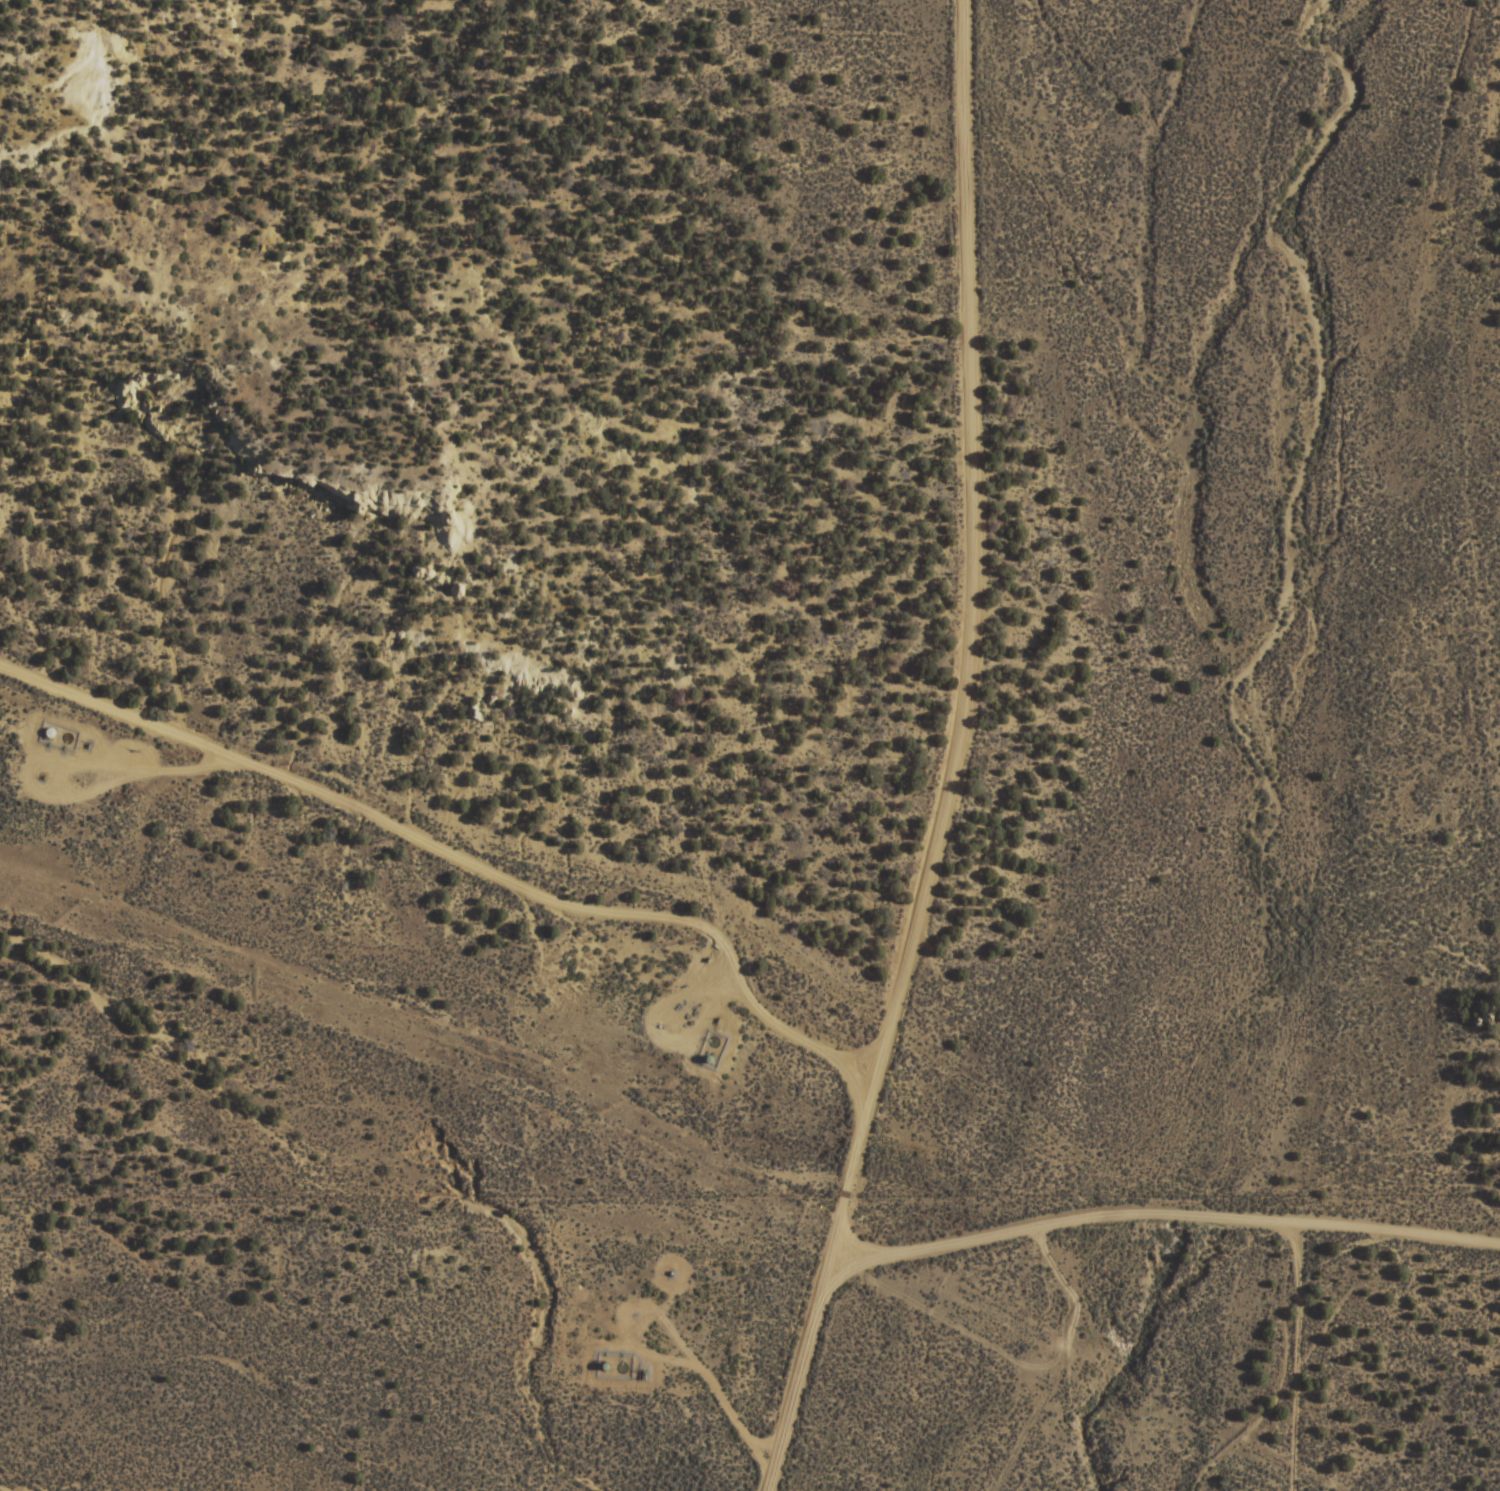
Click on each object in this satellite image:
river: (1310, 372)
road: (1404, 535)
road: (889, 764)
road: (393, 869)
river: (1207, 1148)
road: (1114, 1189)

